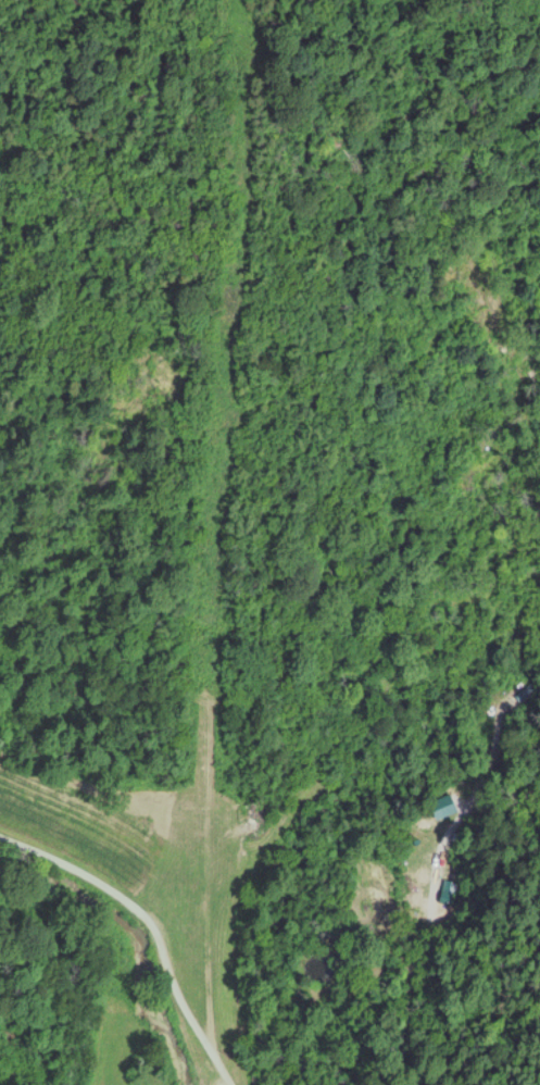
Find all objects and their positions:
road: (137, 909)
road: (367, 978)
road: (219, 1065)

